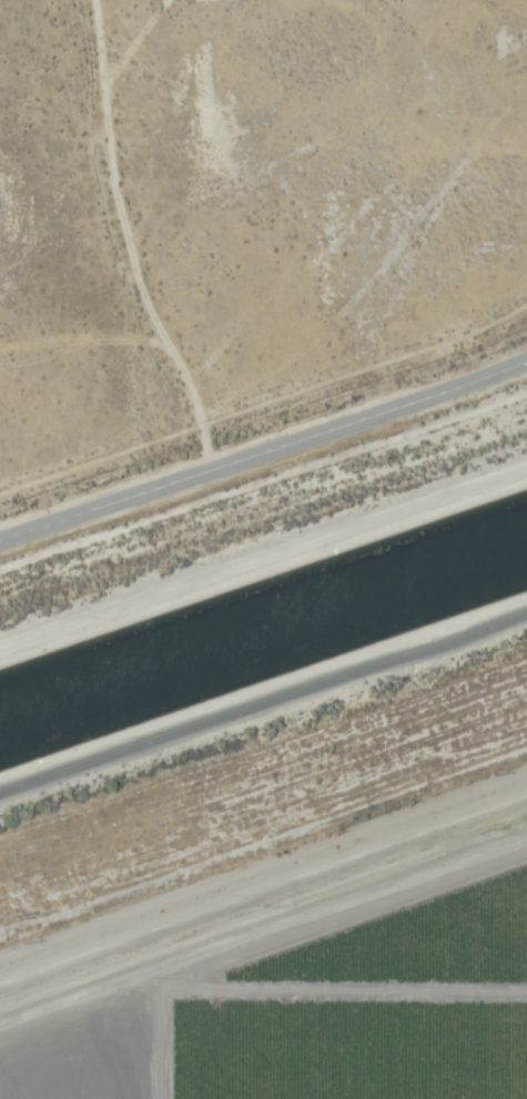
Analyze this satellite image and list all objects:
crop: (241, 201)
road: (128, 241)
road: (264, 450)
road: (263, 554)
road: (263, 701)
crop: (291, 950)

